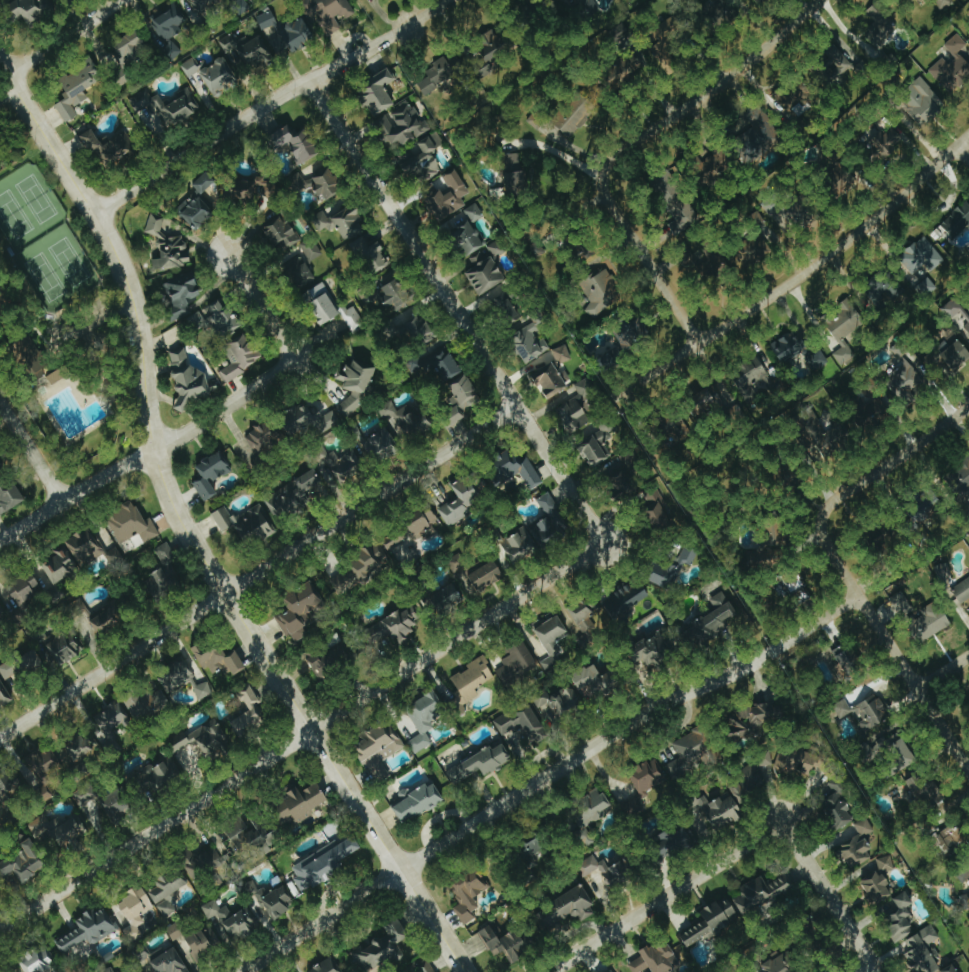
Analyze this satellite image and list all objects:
building: (574, 0)
building: (760, 1)
building: (241, 2)
building: (205, 5)
building: (30, 10)
building: (720, 11)
building: (328, 13)
building: (265, 20)
building: (168, 22)
building: (667, 27)
building: (880, 27)
building: (291, 37)
building: (968, 37)
road: (63, 38)
building: (134, 47)
building: (170, 47)
building: (245, 49)
building: (491, 51)
building: (842, 61)
building: (952, 66)
building: (192, 67)
building: (439, 71)
building: (218, 78)
road: (714, 86)
building: (377, 91)
building: (76, 92)
building: (790, 93)
road: (268, 102)
building: (923, 102)
building: (183, 106)
building: (575, 115)
building: (536, 118)
building: (405, 122)
building: (757, 128)
building: (882, 140)
building: (296, 142)
building: (107, 148)
road: (963, 152)
building: (423, 153)
building: (713, 166)
building: (514, 174)
building: (326, 184)
building: (240, 190)
building: (448, 195)
park: (34, 198)
building: (202, 200)
building: (772, 206)
building: (678, 209)
building: (796, 213)
park: (12, 214)
building: (957, 219)
building: (348, 221)
building: (468, 230)
building: (280, 233)
building: (166, 244)
building: (495, 249)
building: (370, 253)
road: (644, 256)
building: (920, 257)
park: (67, 261)
building: (302, 262)
building: (484, 273)
road: (801, 274)
park: (43, 276)
building: (882, 288)
building: (601, 290)
building: (182, 293)
building: (396, 294)
building: (321, 303)
building: (504, 305)
road: (457, 310)
building: (956, 311)
building: (221, 318)
building: (351, 319)
building: (414, 327)
park: (59, 328)
road: (73, 331)
building: (844, 331)
parking lot: (84, 333)
building: (530, 337)
building: (627, 340)
building: (788, 345)
building: (19, 349)
building: (560, 354)
building: (947, 354)
building: (241, 356)
building: (434, 364)
building: (58, 375)
building: (546, 377)
building: (752, 379)
building: (186, 380)
building: (901, 380)
building: (354, 386)
building: (464, 392)
building: (576, 403)
building: (869, 408)
building: (304, 419)
road: (205, 420)
building: (395, 426)
building: (604, 430)
building: (675, 430)
building: (262, 437)
building: (833, 440)
road: (28, 450)
building: (592, 450)
building: (628, 459)
road: (894, 461)
building: (342, 465)
building: (0, 467)
building: (513, 468)
building: (209, 475)
building: (961, 476)
building: (620, 482)
building: (289, 494)
building: (9, 495)
building: (465, 497)
building: (927, 507)
building: (657, 509)
building: (546, 521)
building: (244, 522)
building: (131, 523)
building: (411, 529)
road: (189, 537)
building: (82, 545)
building: (519, 545)
building: (456, 563)
building: (58, 565)
building: (672, 567)
building: (941, 570)
building: (356, 571)
road: (259, 572)
building: (163, 573)
building: (486, 575)
building: (793, 583)
building: (964, 588)
building: (25, 589)
building: (447, 598)
building: (626, 598)
building: (900, 603)
building: (298, 611)
building: (1, 614)
building: (106, 618)
building: (930, 620)
building: (710, 621)
building: (582, 622)
building: (397, 624)
building: (551, 638)
road: (890, 645)
building: (63, 647)
building: (208, 655)
building: (326, 660)
building: (516, 663)
building: (846, 663)
building: (22, 666)
road: (943, 672)
building: (177, 675)
building: (472, 678)
building: (201, 690)
building: (4, 693)
building: (146, 703)
building: (556, 704)
building: (248, 715)
building: (110, 718)
building: (755, 718)
building: (422, 719)
building: (520, 722)
road: (302, 736)
building: (199, 742)
building: (377, 745)
building: (79, 747)
building: (691, 751)
building: (801, 761)
building: (41, 762)
building: (479, 762)
building: (156, 774)
road: (546, 776)
building: (757, 776)
building: (643, 784)
building: (9, 785)
building: (926, 792)
building: (83, 794)
building: (417, 800)
building: (301, 802)
building: (116, 804)
building: (838, 804)
building: (591, 807)
building: (725, 812)
building: (54, 831)
building: (954, 838)
building: (675, 840)
building: (856, 842)
building: (533, 845)
building: (23, 861)
building: (322, 863)
building: (203, 864)
building: (609, 869)
building: (962, 873)
building: (878, 882)
building: (166, 891)
building: (762, 893)
building: (467, 895)
road: (829, 896)
road: (665, 897)
building: (274, 902)
building: (963, 902)
building: (134, 909)
building: (563, 910)
building: (898, 915)
building: (227, 919)
building: (711, 921)
building: (86, 930)
building: (174, 930)
building: (203, 943)
building: (508, 944)
building: (382, 946)
building: (921, 950)
building: (655, 959)
building: (167, 961)
building: (37, 962)
building: (781, 963)
building: (324, 966)
road: (864, 967)
building: (425, 968)
building: (950, 969)
building: (106, 970)
building: (118, 971)

